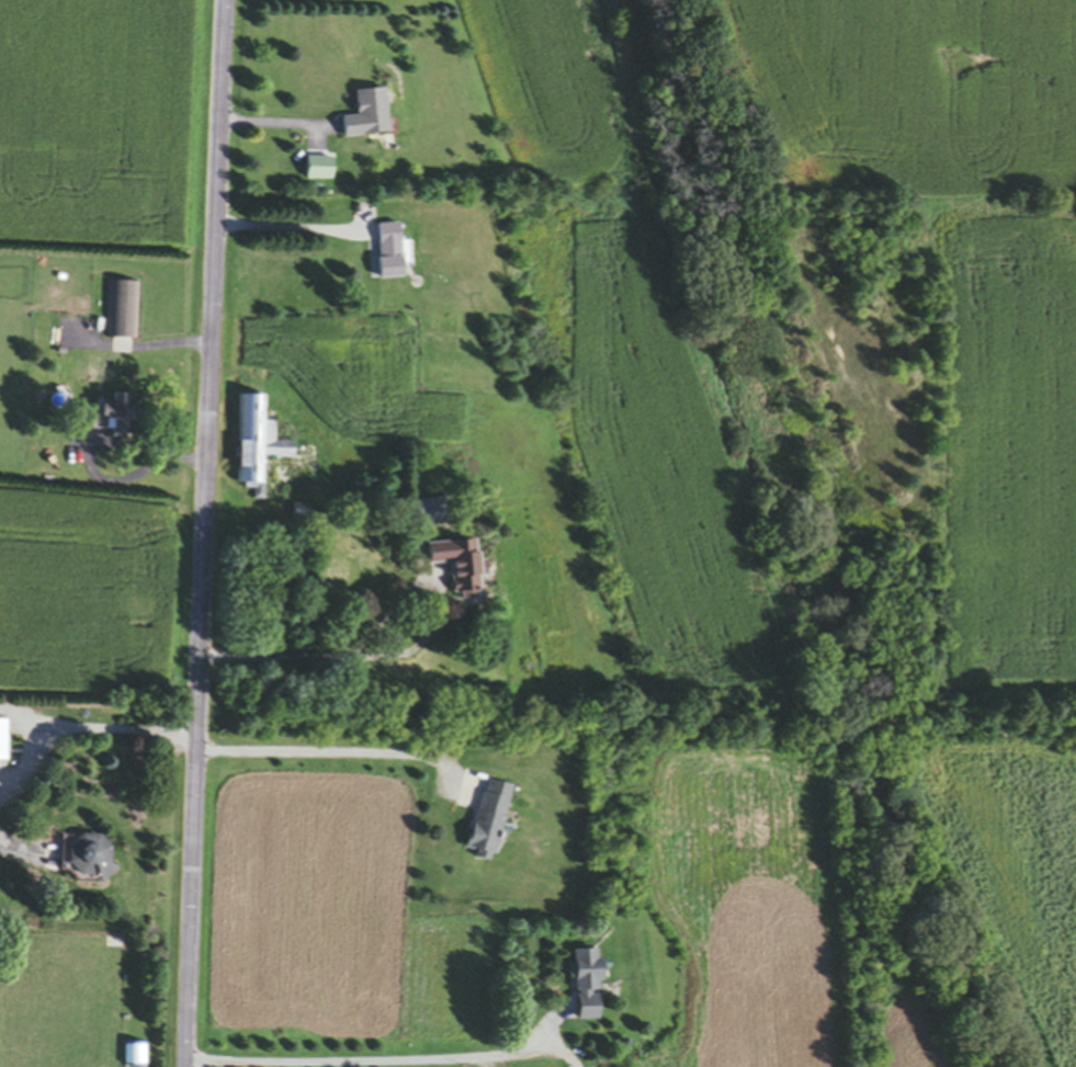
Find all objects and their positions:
building: (370, 116)
road: (279, 123)
building: (321, 169)
road: (296, 228)
building: (393, 252)
building: (123, 311)
building: (114, 417)
building: (258, 445)
road: (94, 451)
road: (204, 533)
building: (462, 568)
road: (405, 657)
road: (98, 726)
building: (3, 744)
road: (335, 756)
road: (27, 759)
building: (490, 822)
road: (8, 854)
building: (89, 860)
building: (589, 979)
road: (372, 1059)

